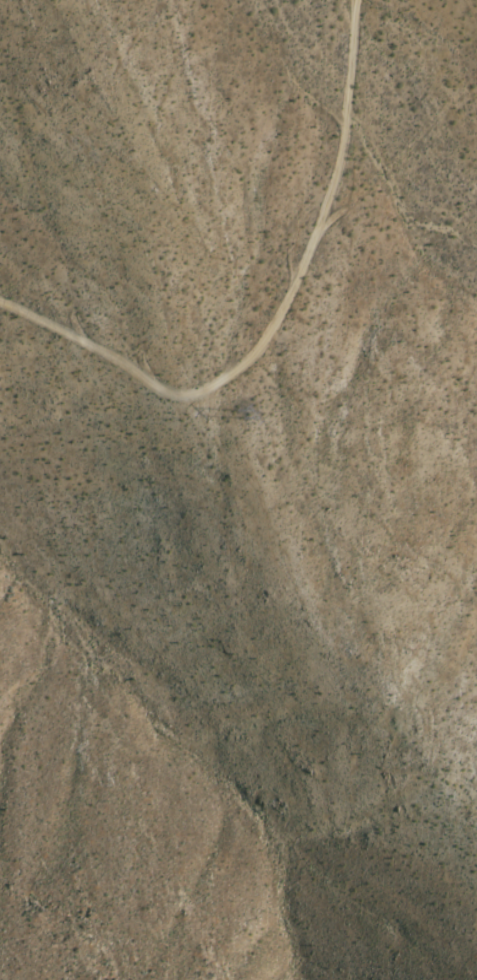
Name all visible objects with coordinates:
road: (283, 325)
power tower: (247, 407)

